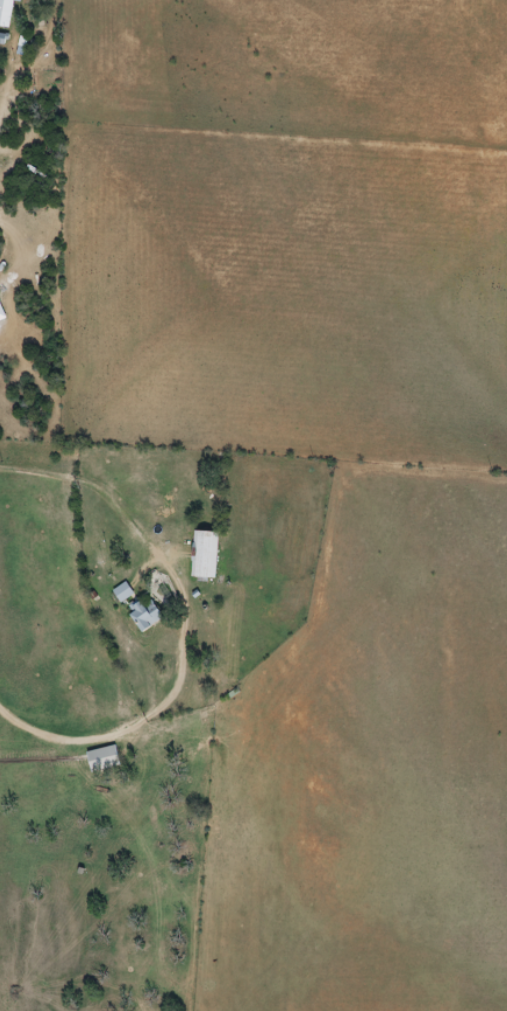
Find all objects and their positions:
building: (7, 12)
road: (149, 407)
building: (201, 556)
building: (119, 593)
building: (141, 615)
building: (101, 759)

